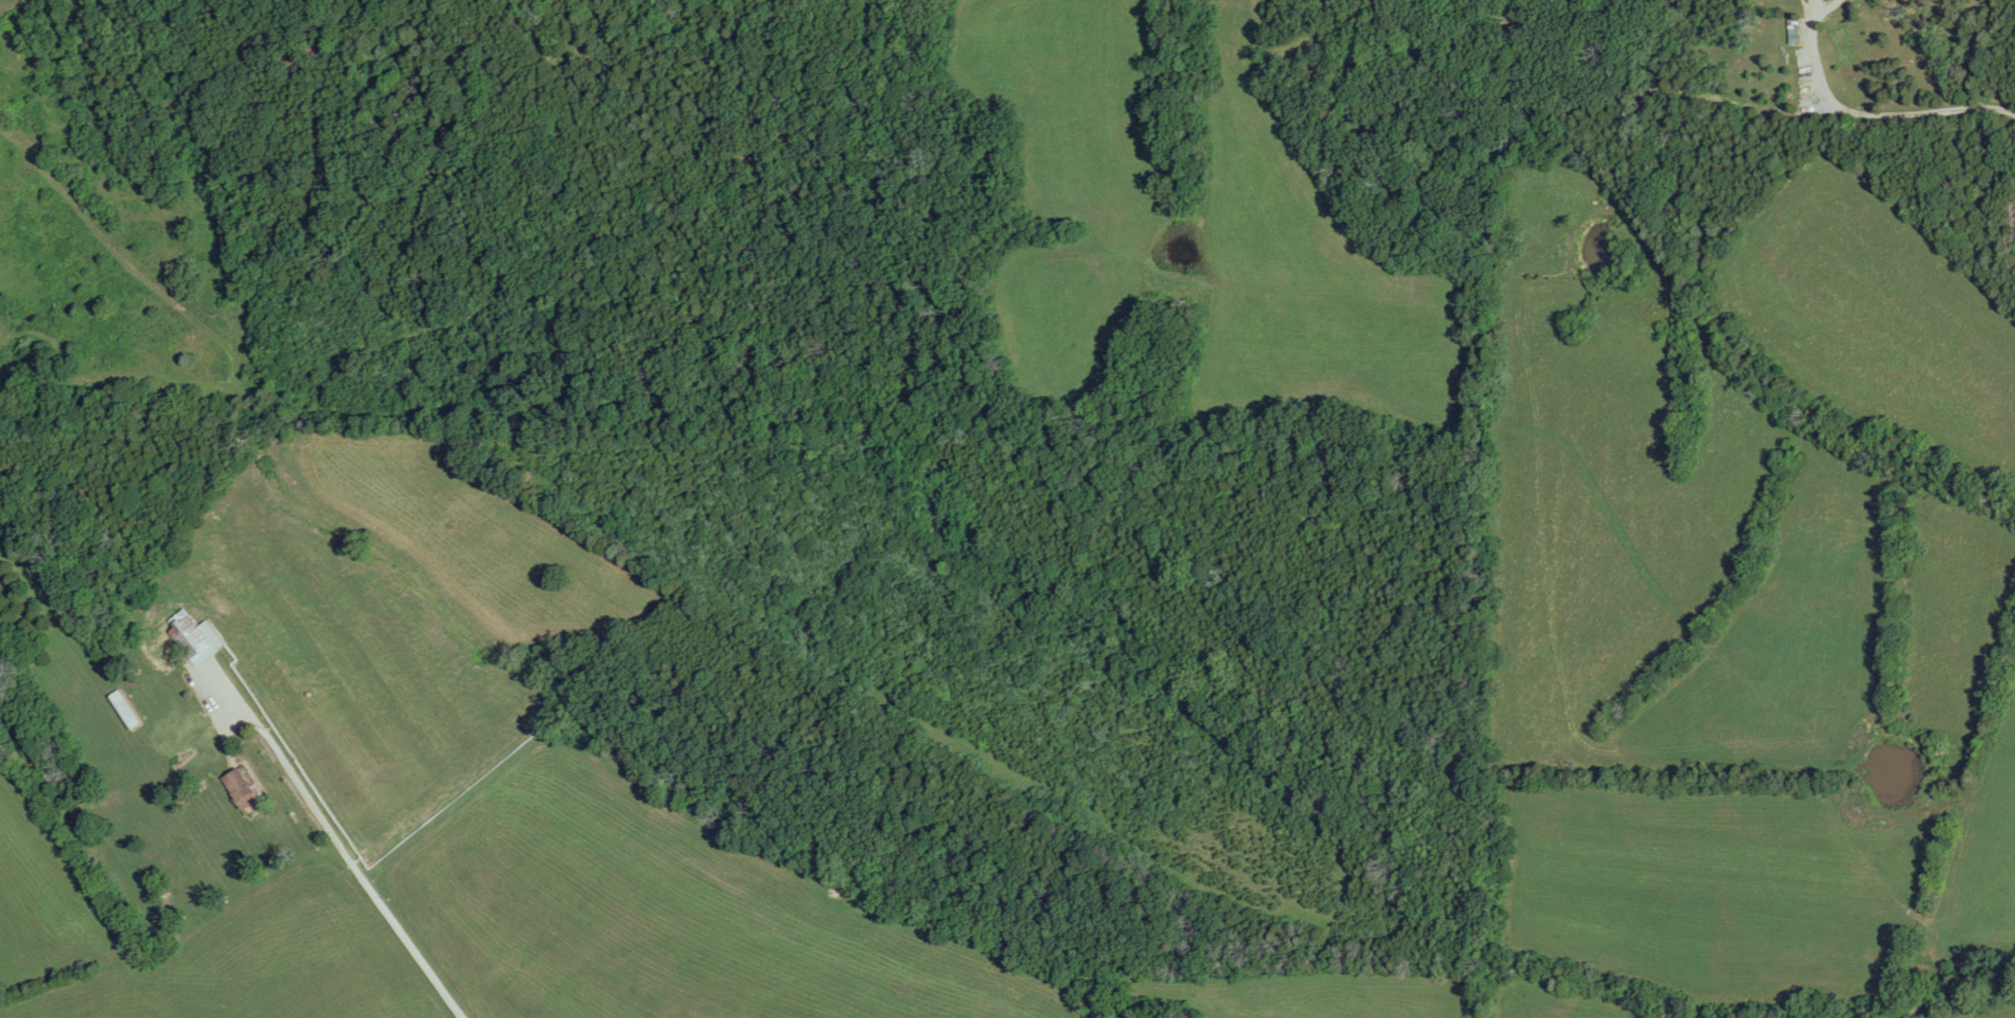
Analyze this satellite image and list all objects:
road: (1829, 3)
building: (1771, 45)
building: (195, 637)
building: (245, 789)
road: (355, 886)

